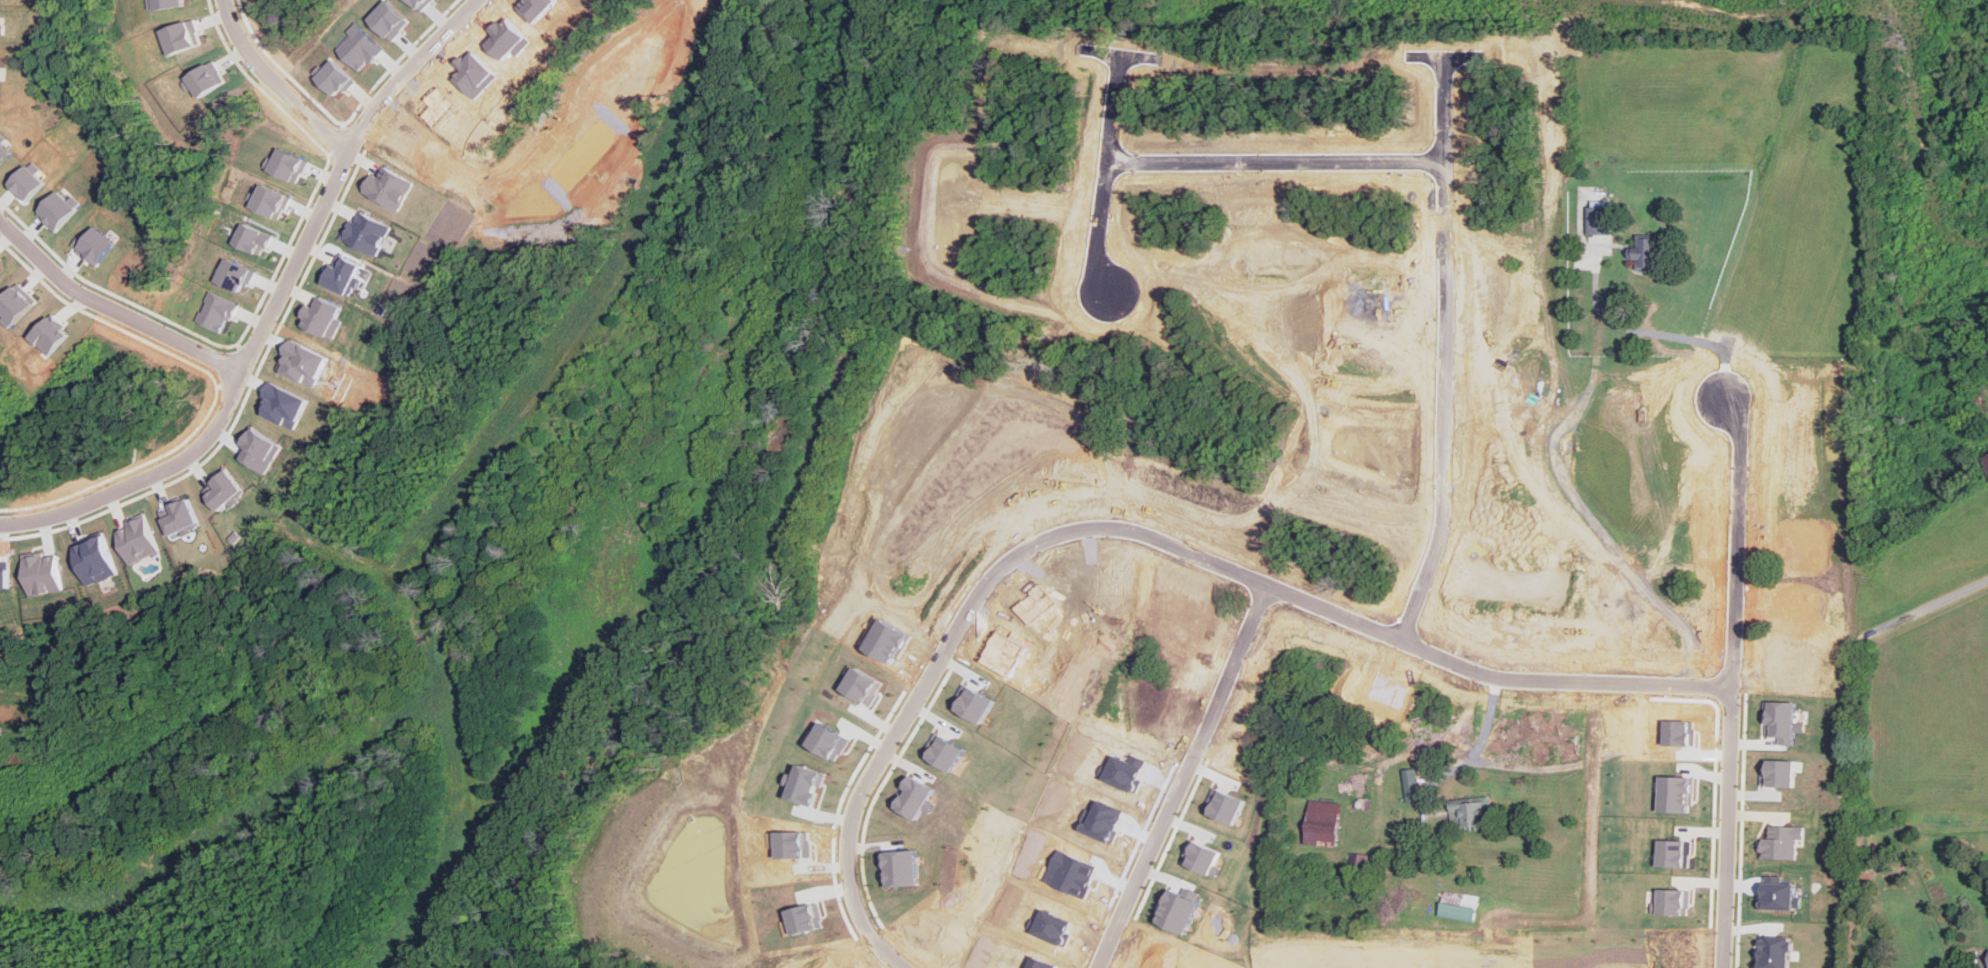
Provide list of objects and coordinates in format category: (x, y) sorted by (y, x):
building: (168, 3)
building: (2, 21)
building: (185, 36)
building: (0, 57)
road: (408, 71)
building: (208, 80)
road: (275, 84)
road: (1120, 110)
building: (3, 148)
road: (1277, 162)
building: (290, 165)
building: (28, 181)
building: (391, 188)
building: (272, 201)
building: (59, 209)
building: (1599, 216)
road: (1107, 224)
building: (368, 232)
building: (254, 238)
building: (95, 245)
building: (1647, 250)
road: (296, 261)
building: (0, 270)
building: (236, 274)
building: (345, 274)
building: (16, 304)
road: (112, 311)
building: (218, 311)
building: (325, 317)
road: (1648, 329)
building: (50, 335)
road: (1440, 348)
building: (306, 363)
building: (287, 405)
building: (262, 449)
building: (1986, 463)
road: (142, 478)
building: (225, 489)
building: (181, 516)
road: (1143, 535)
building: (138, 538)
building: (97, 558)
building: (45, 573)
building: (6, 578)
road: (1933, 604)
road: (1731, 683)
road: (1183, 776)
building: (1412, 784)
building: (1677, 793)
building: (1224, 805)
building: (1470, 813)
building: (1325, 823)
building: (1784, 841)
building: (1675, 852)
building: (1781, 895)
building: (1673, 901)
building: (1459, 911)
building: (1775, 952)
road: (1982, 961)

